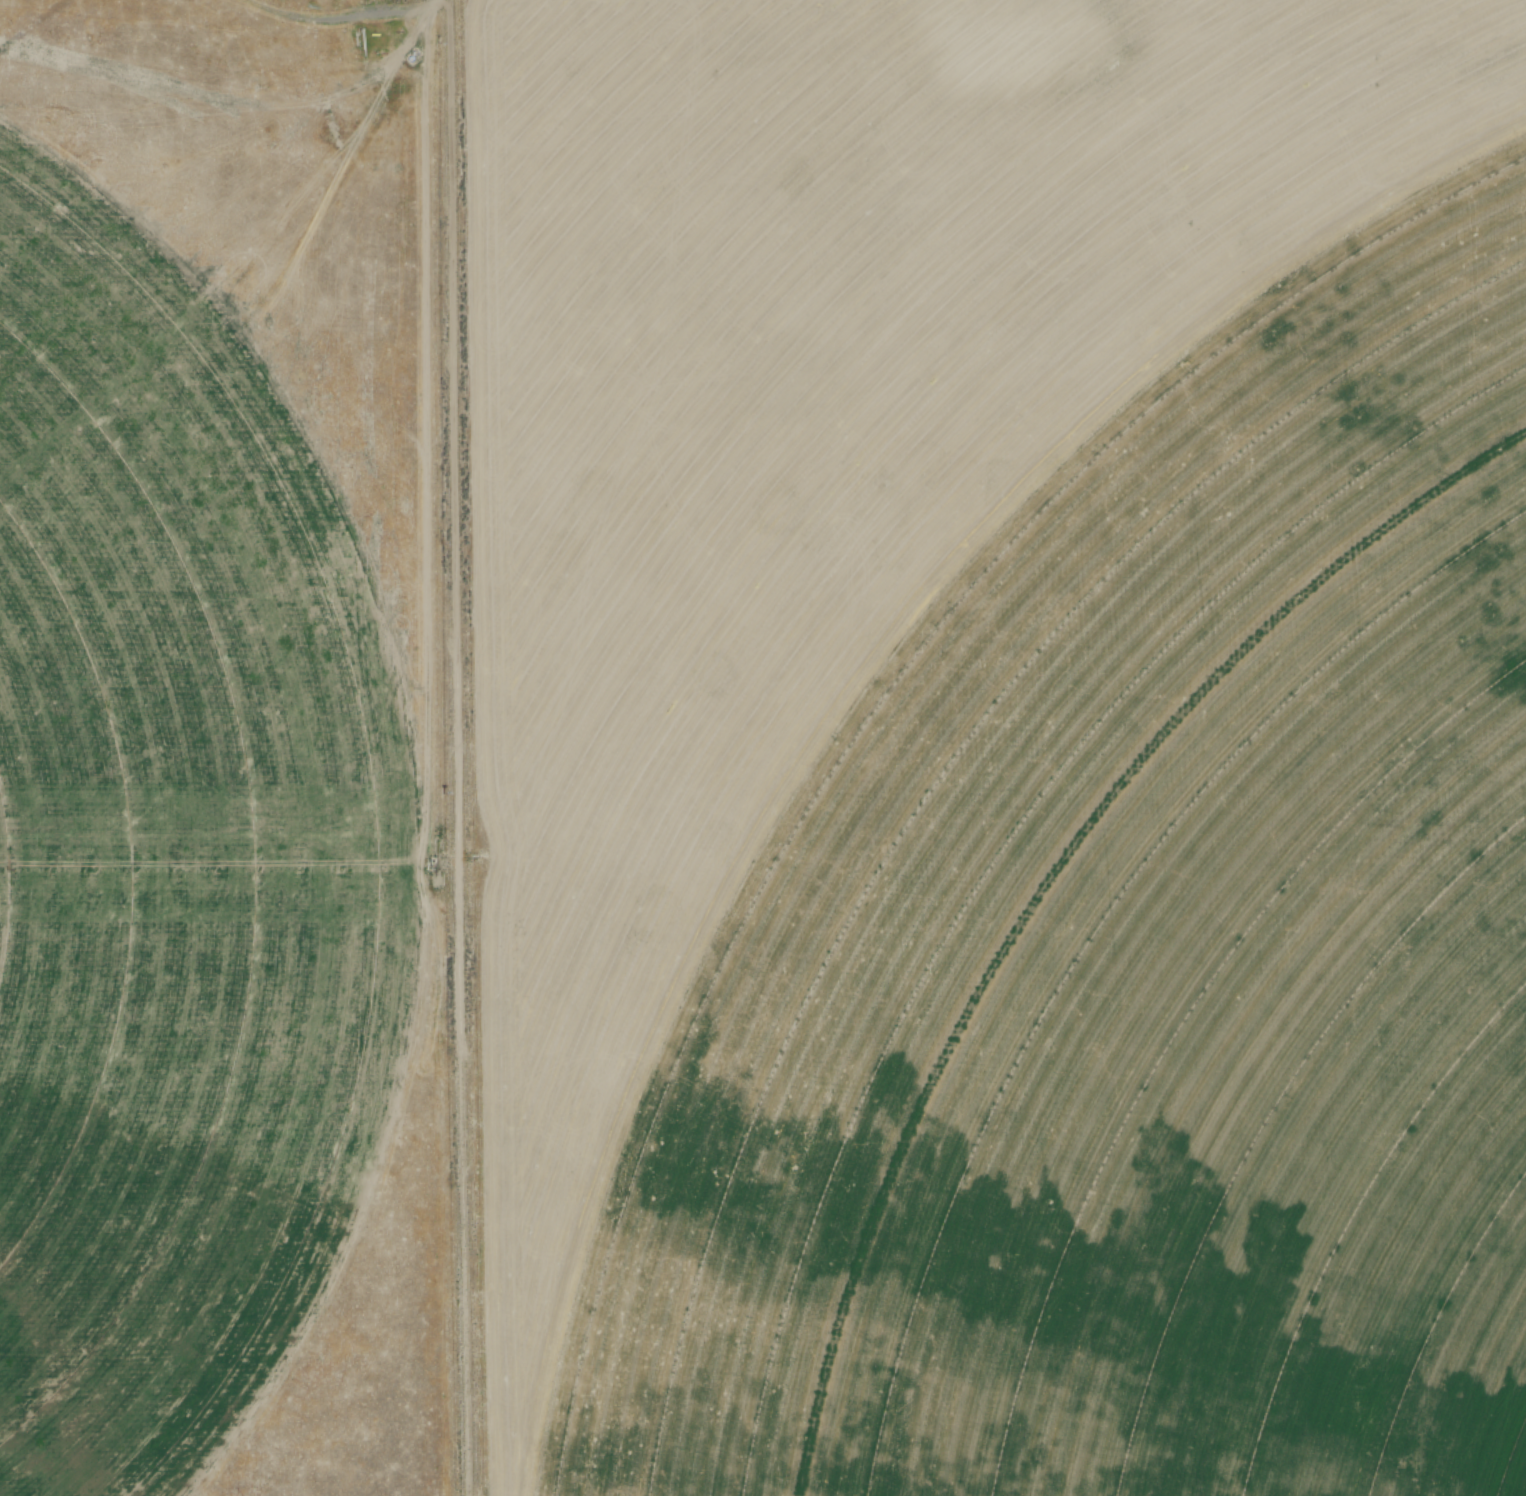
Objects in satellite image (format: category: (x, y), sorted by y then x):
road: (461, 747)

